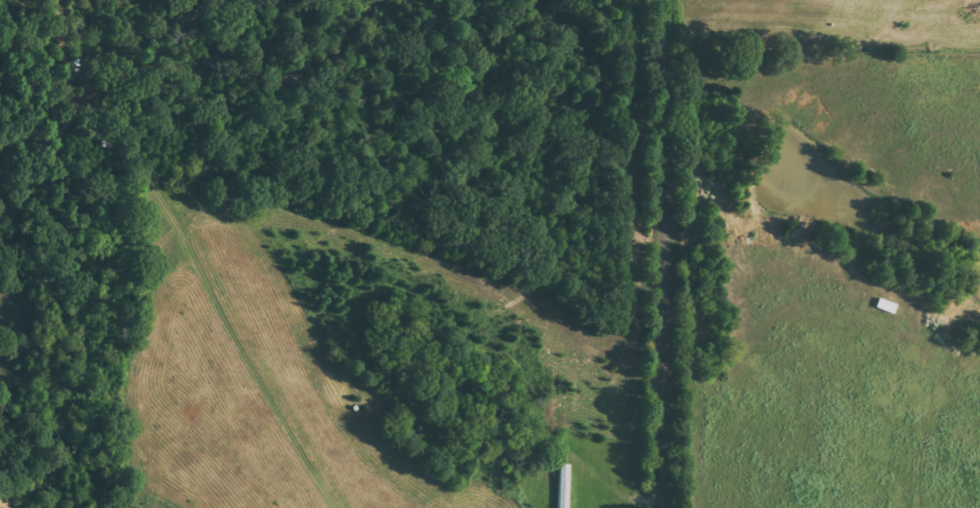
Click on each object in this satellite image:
road: (665, 254)

